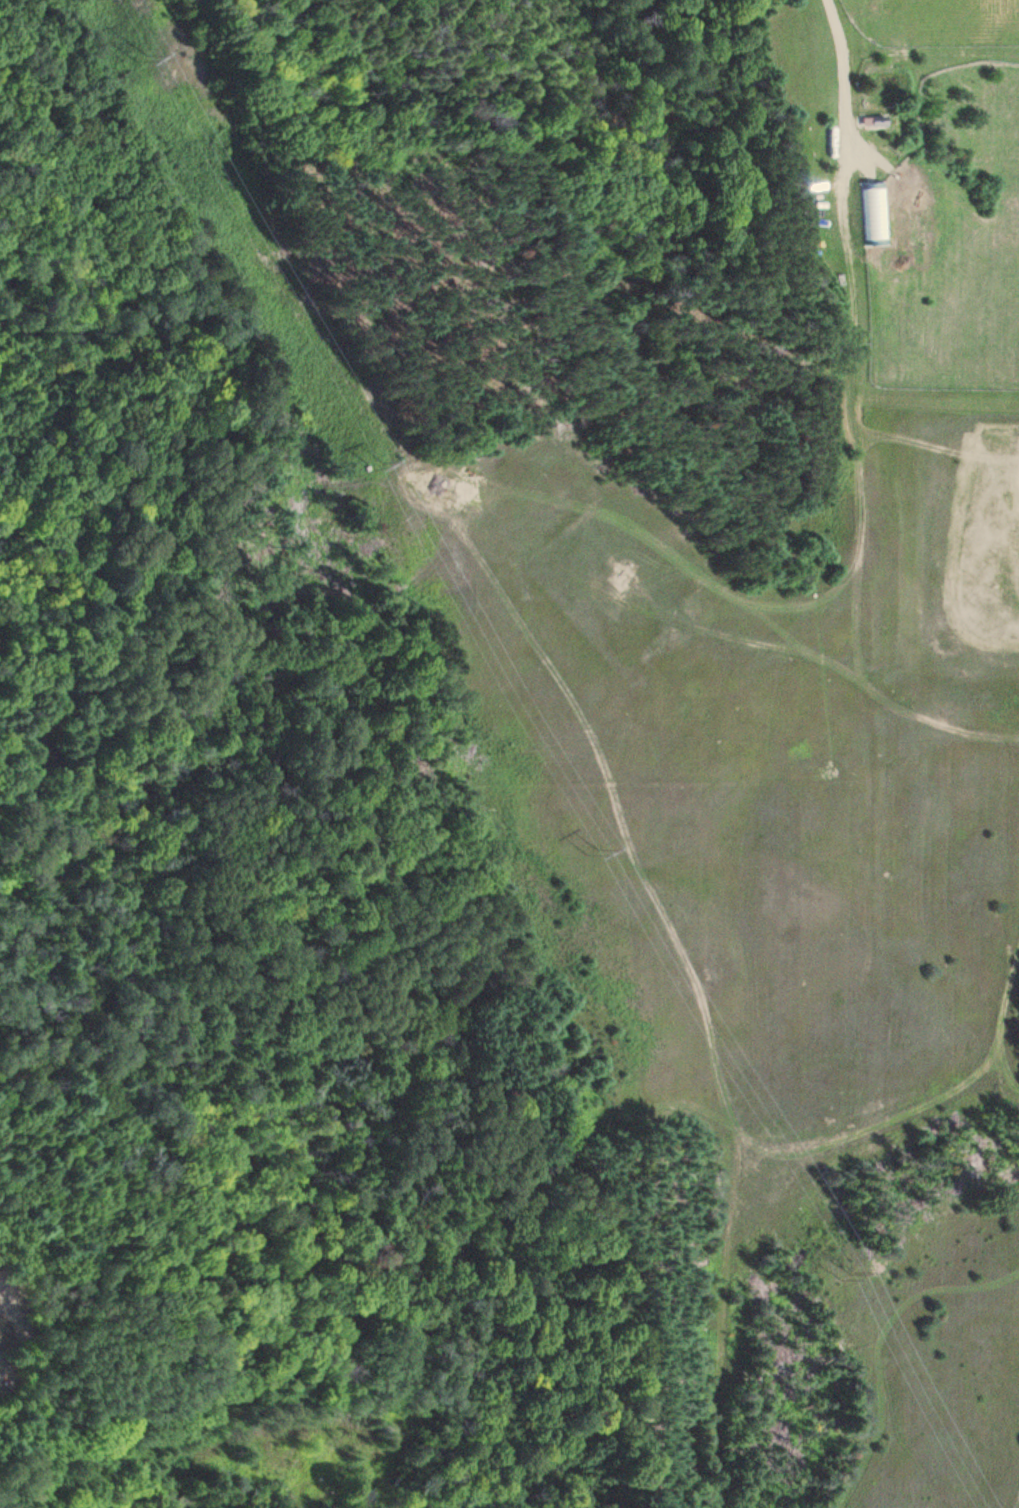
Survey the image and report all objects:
building: (1009, 436)
building: (1004, 568)

